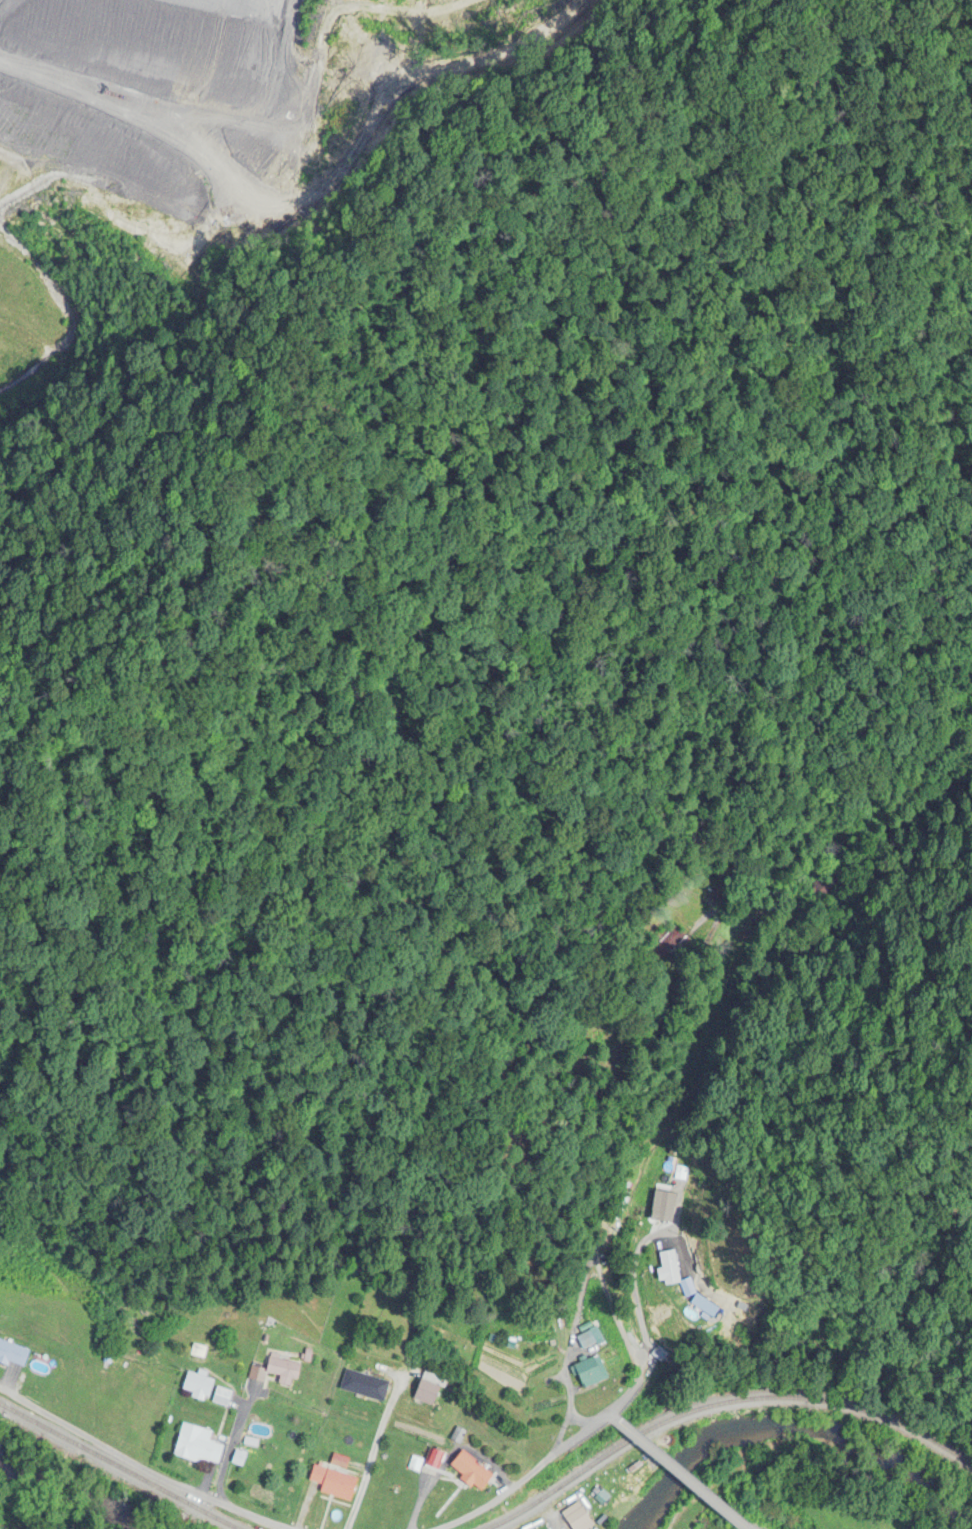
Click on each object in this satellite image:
quarry: (229, 121)
building: (816, 891)
building: (667, 945)
building: (668, 1176)
road: (676, 1214)
building: (660, 1215)
building: (668, 1268)
road: (618, 1321)
building: (587, 1340)
building: (13, 1354)
road: (567, 1368)
building: (284, 1370)
building: (592, 1373)
road: (636, 1381)
building: (199, 1385)
building: (364, 1386)
building: (427, 1393)
building: (221, 1397)
railway: (723, 1404)
road: (610, 1418)
river: (794, 1441)
road: (233, 1444)
building: (197, 1446)
road: (373, 1453)
building: (434, 1460)
road: (140, 1464)
railway: (118, 1467)
building: (471, 1472)
road: (681, 1473)
building: (333, 1483)
river: (53, 1498)
building: (577, 1518)
road: (746, 1528)

